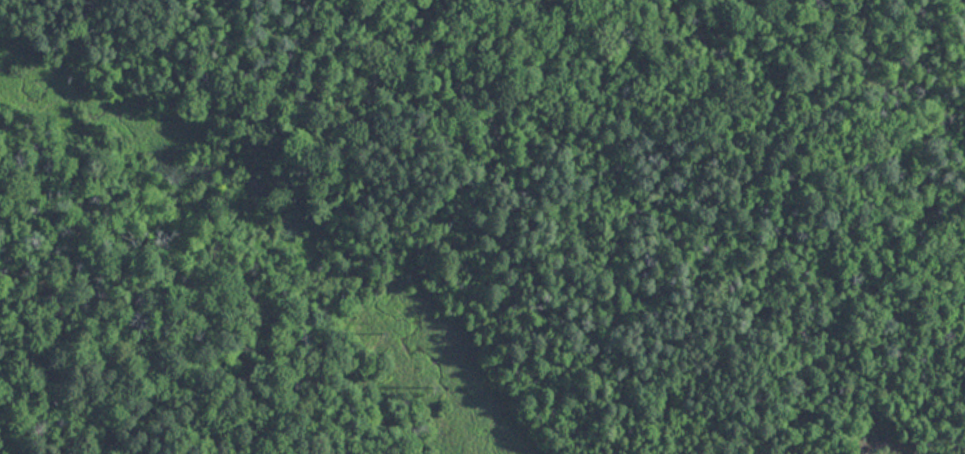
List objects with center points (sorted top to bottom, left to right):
park: (482, 227)

